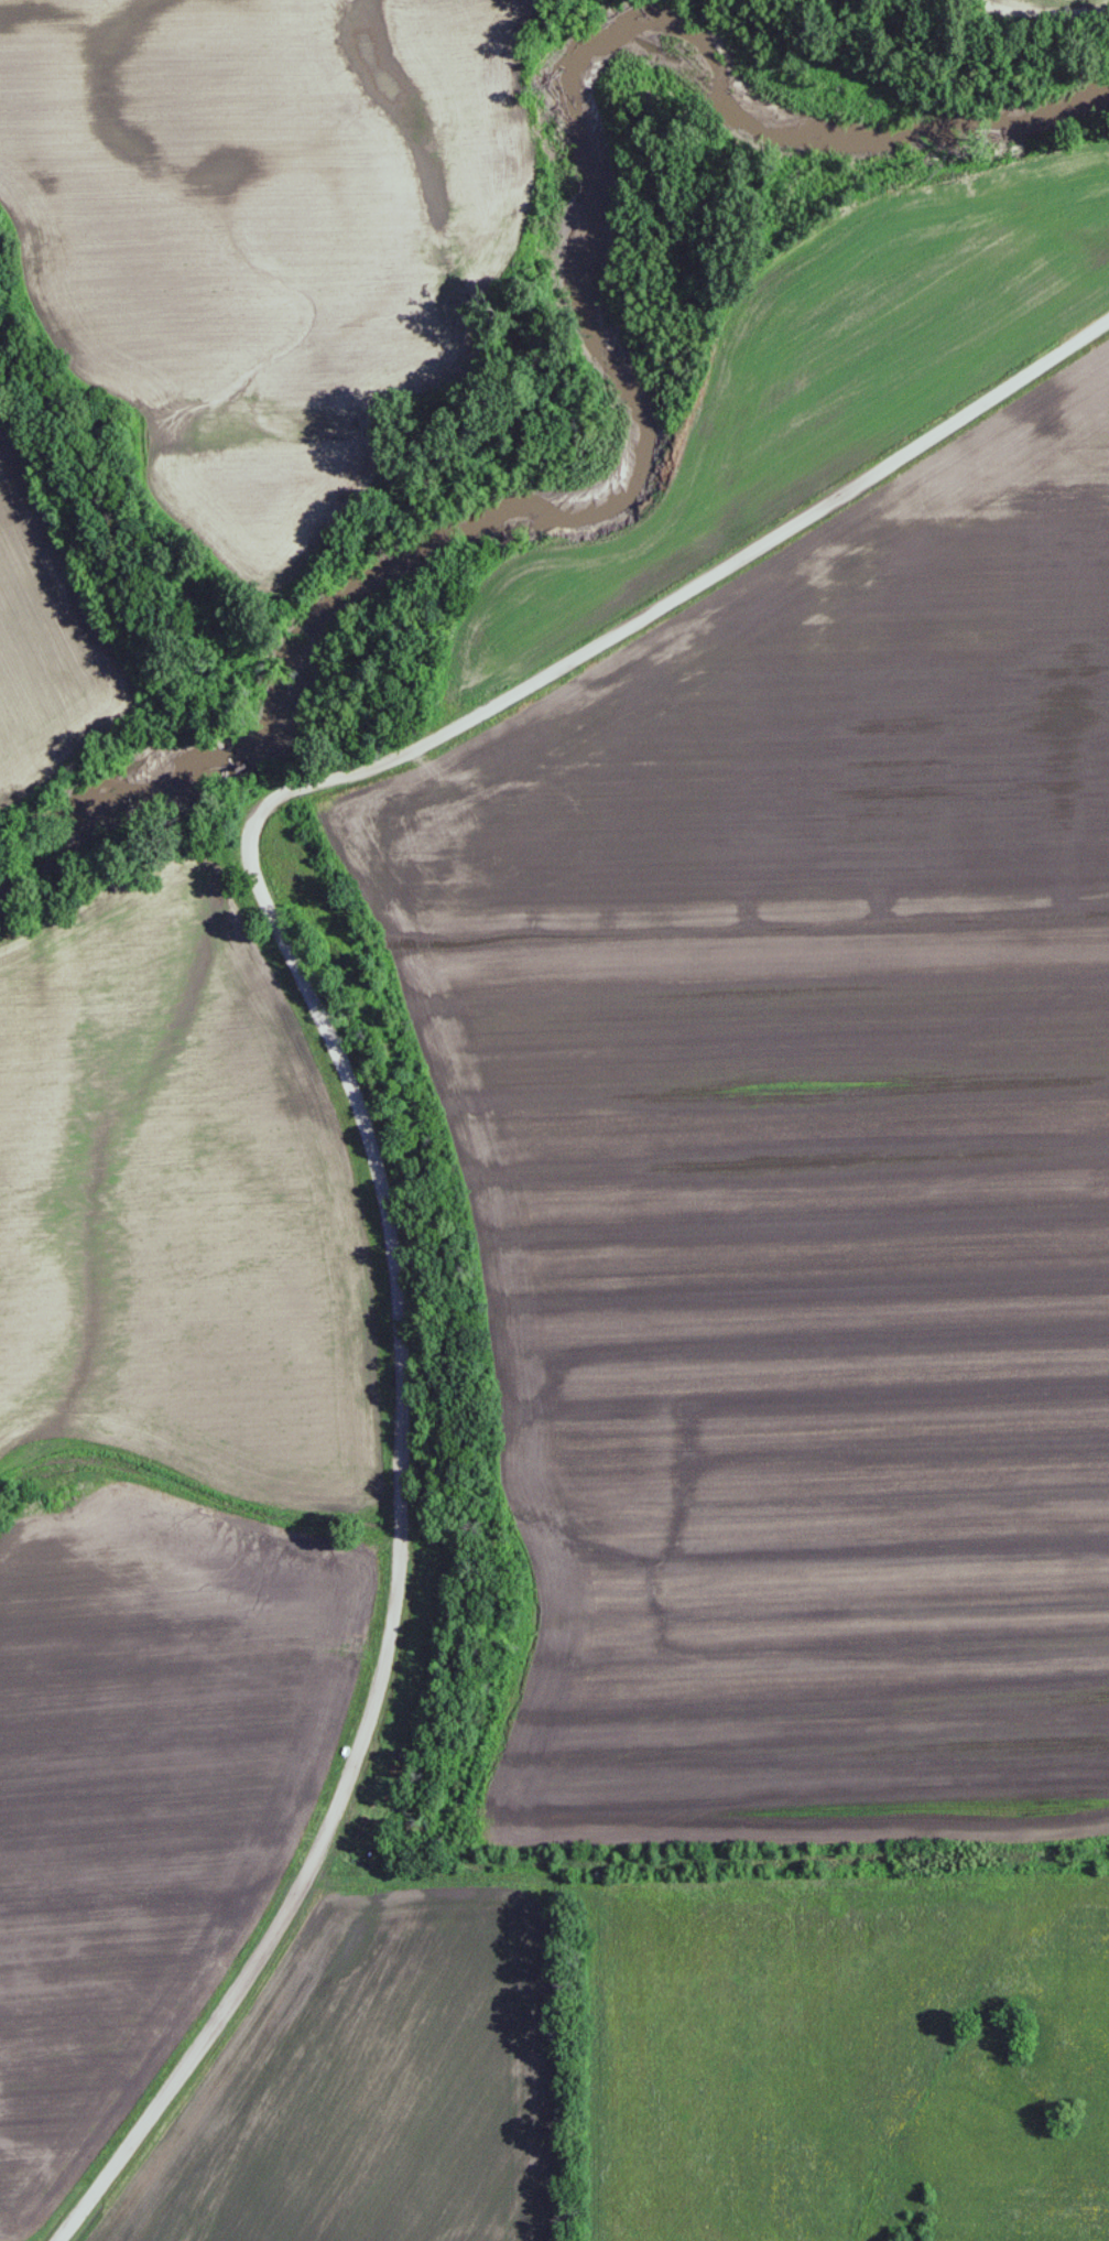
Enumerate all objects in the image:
road: (733, 562)
road: (402, 1511)

